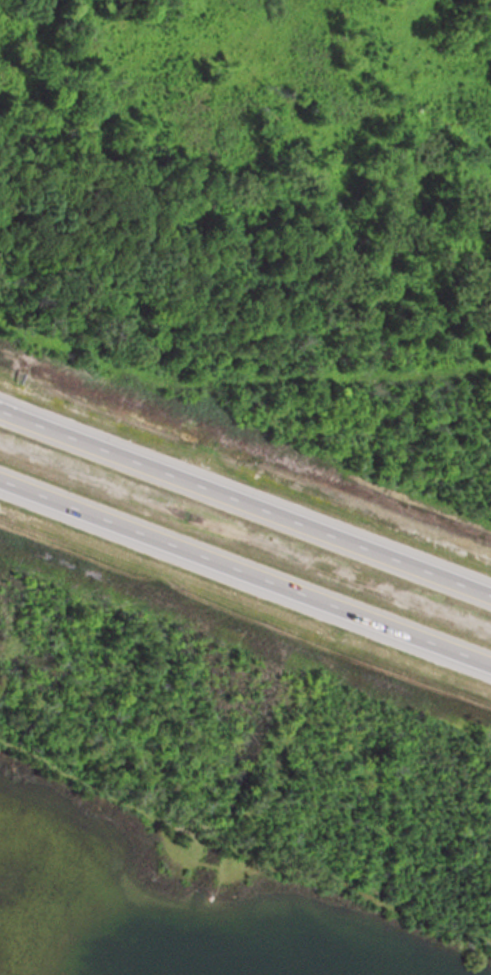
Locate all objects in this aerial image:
road: (245, 501)
road: (245, 574)

